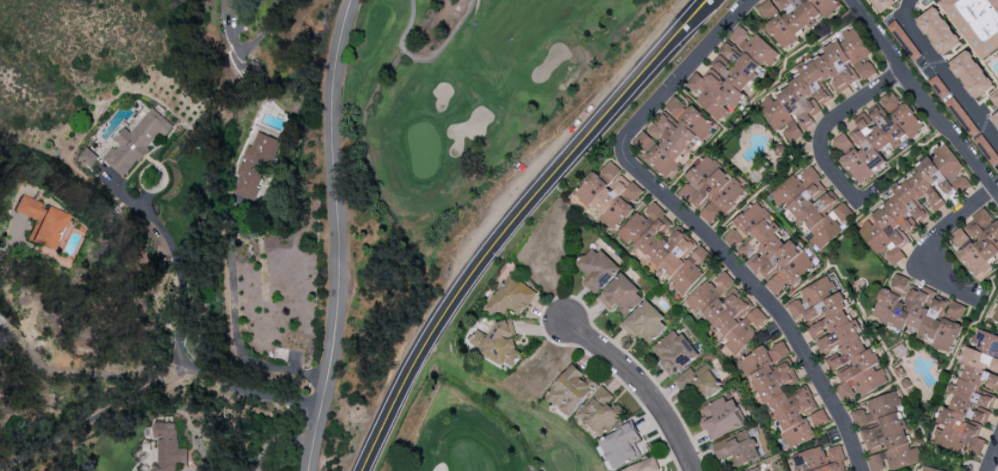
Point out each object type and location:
building: (882, 4)
building: (229, 11)
building: (794, 17)
building: (976, 23)
building: (938, 31)
road: (260, 36)
building: (731, 72)
road: (944, 74)
building: (971, 74)
road: (680, 75)
building: (818, 84)
building: (939, 86)
road: (921, 98)
building: (994, 98)
building: (889, 101)
park: (461, 105)
building: (996, 115)
road: (828, 126)
building: (672, 137)
building: (875, 140)
building: (126, 145)
building: (254, 166)
building: (997, 169)
building: (711, 189)
building: (609, 194)
building: (912, 203)
building: (813, 205)
road: (517, 221)
building: (38, 222)
road: (336, 235)
road: (928, 243)
building: (977, 243)
building: (666, 247)
building: (767, 248)
building: (596, 268)
road: (179, 283)
building: (621, 295)
building: (512, 296)
road: (763, 298)
building: (727, 310)
building: (920, 312)
building: (995, 315)
building: (646, 323)
building: (839, 338)
building: (497, 342)
building: (673, 352)
road: (154, 383)
building: (698, 383)
road: (642, 387)
building: (571, 389)
building: (783, 394)
building: (970, 397)
building: (600, 411)
building: (721, 416)
park: (482, 429)
building: (886, 433)
road: (275, 439)
building: (621, 445)
building: (167, 447)
building: (737, 447)
road: (992, 456)
building: (644, 465)
road: (536, 469)
building: (754, 469)
building: (929, 469)
building: (138, 470)
road: (986, 470)
road: (988, 470)

